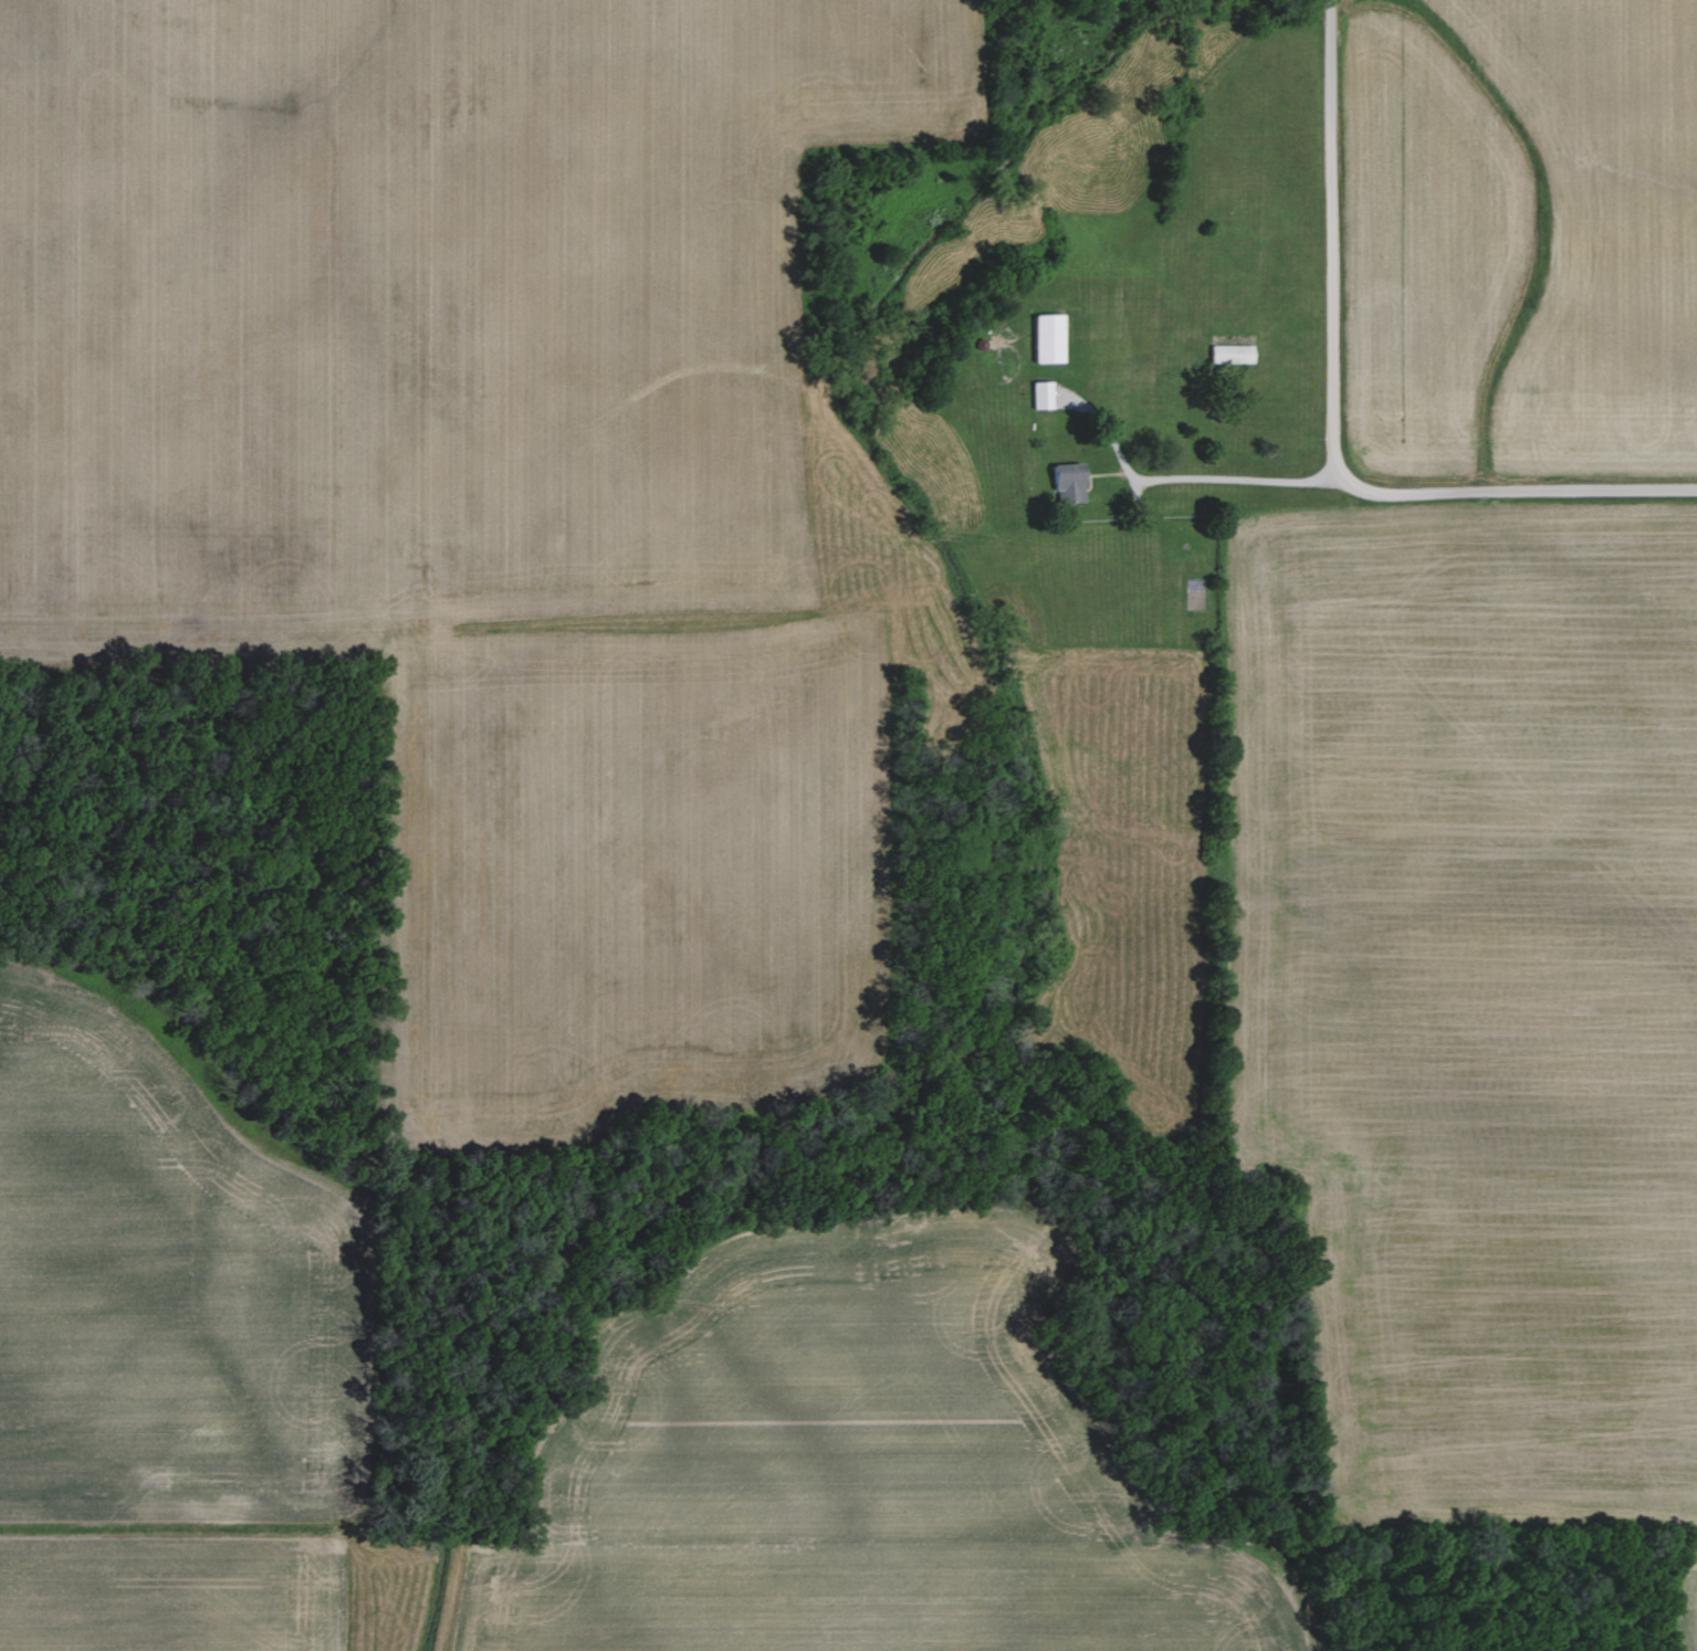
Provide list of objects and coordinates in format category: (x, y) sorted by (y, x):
road: (1329, 234)
building: (1050, 338)
building: (1234, 354)
building: (1045, 395)
road: (1234, 477)
building: (1071, 483)
road: (1512, 488)

